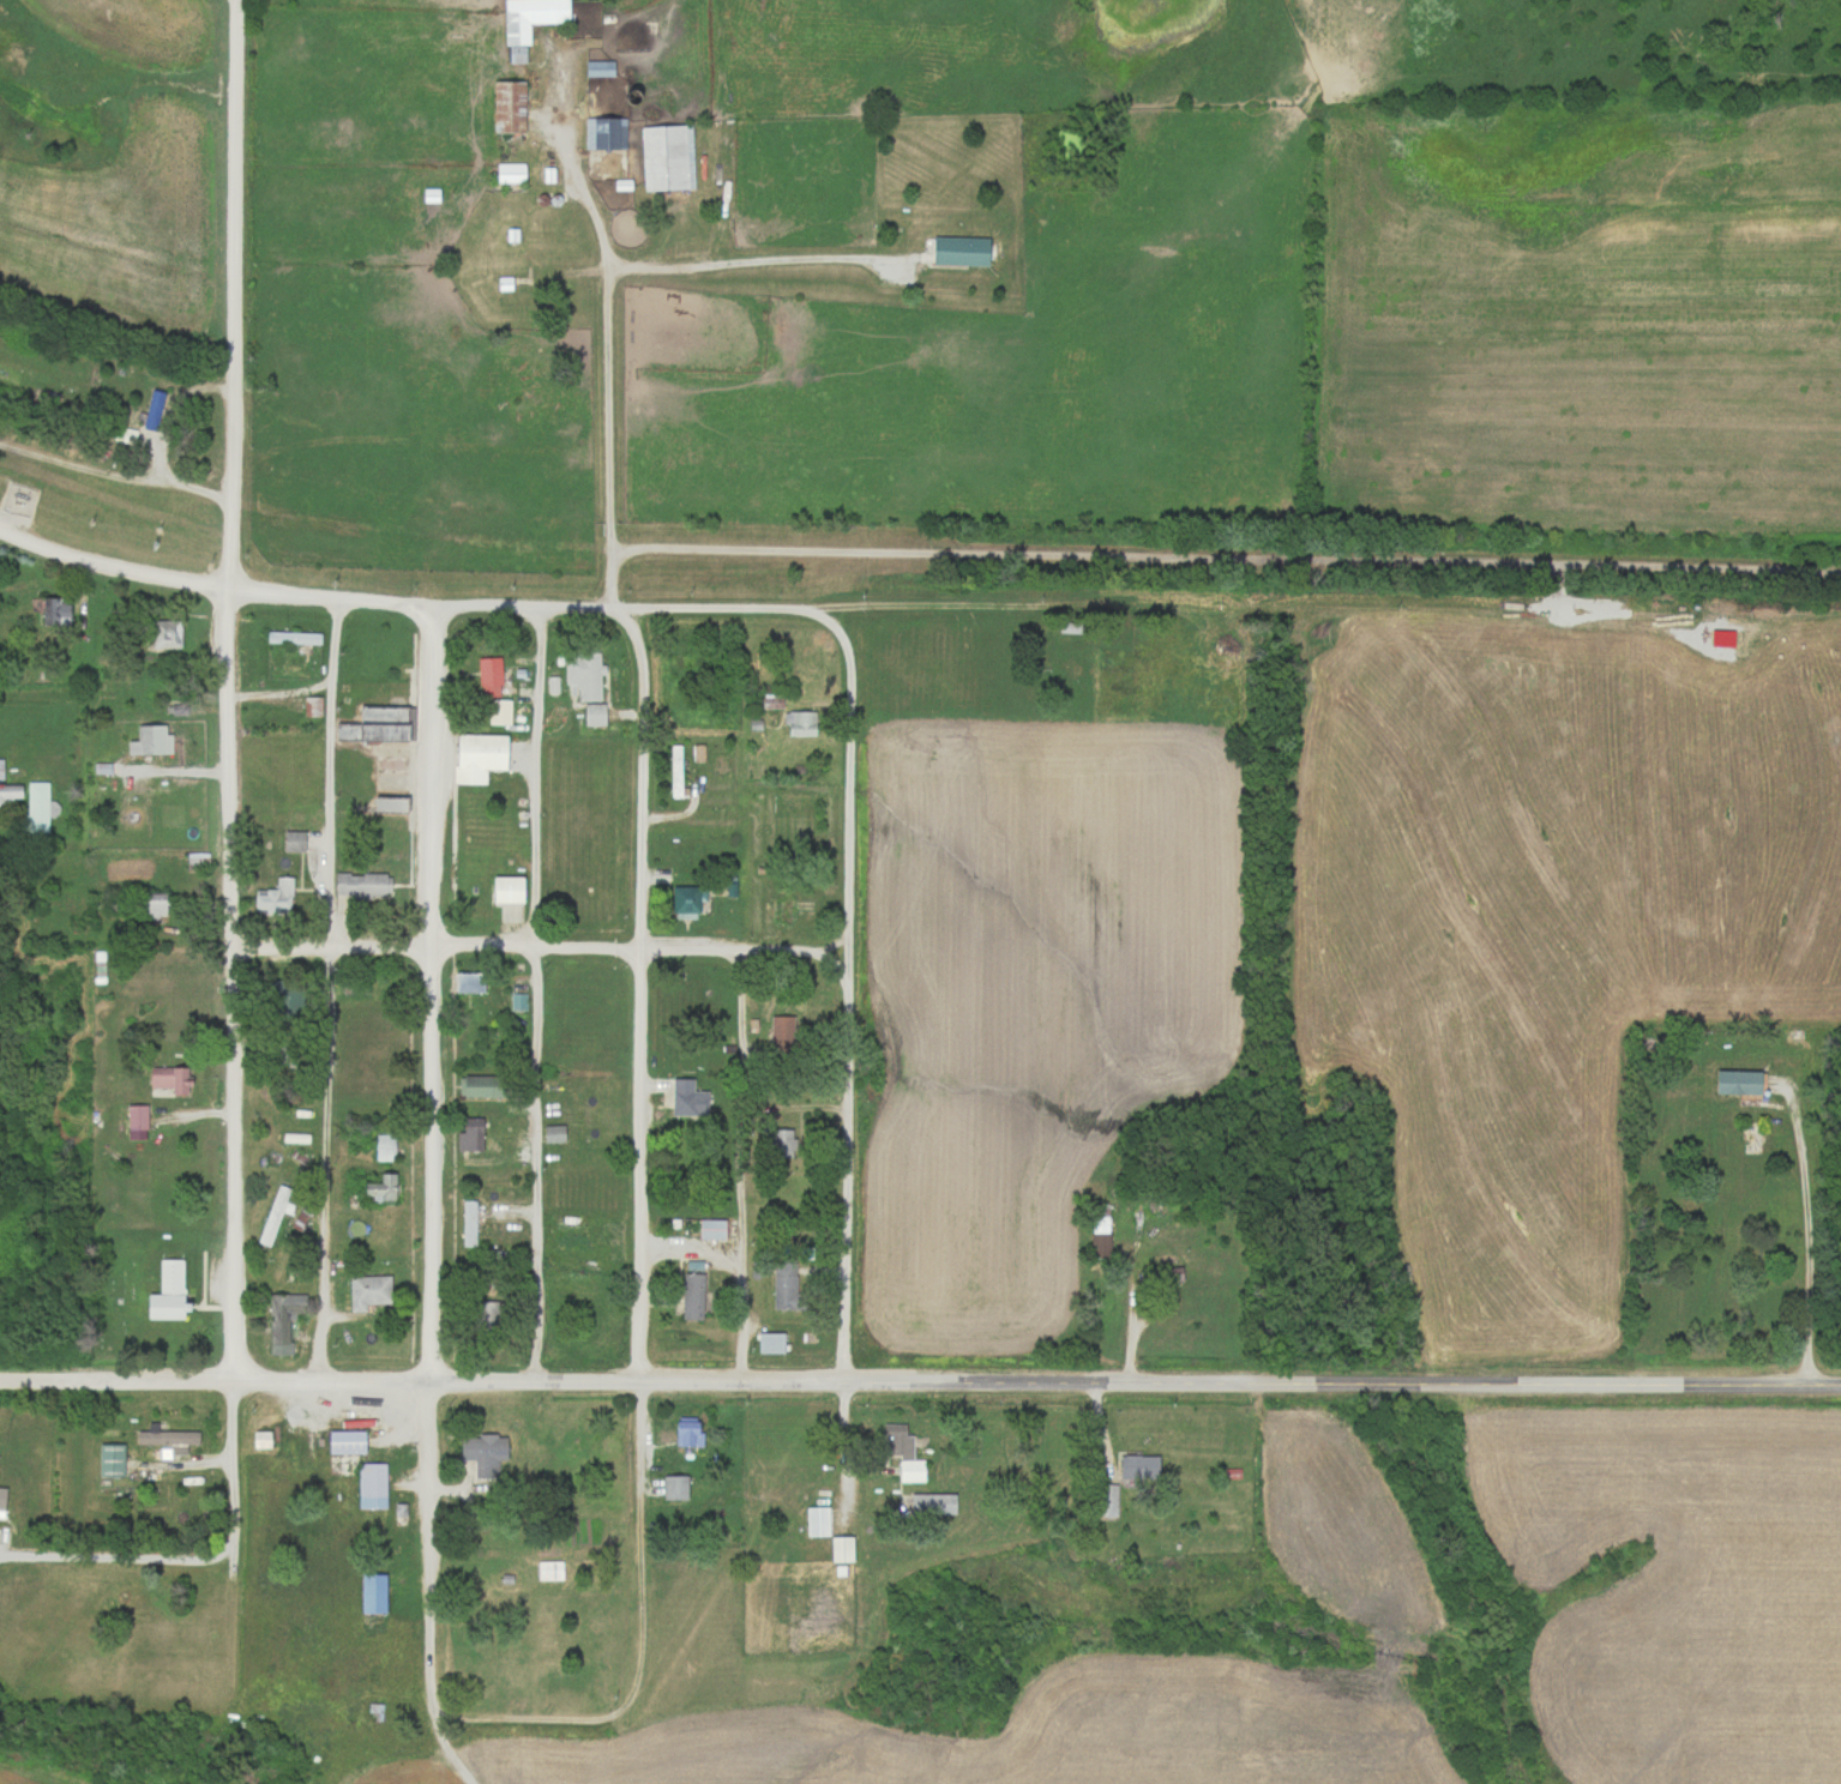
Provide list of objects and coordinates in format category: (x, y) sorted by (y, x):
building: (527, 22)
building: (596, 68)
building: (505, 108)
building: (604, 134)
road: (720, 134)
building: (662, 158)
building: (507, 177)
road: (239, 213)
building: (957, 252)
road: (764, 261)
road: (608, 277)
building: (512, 297)
crop: (1576, 320)
building: (151, 408)
building: (122, 436)
road: (1225, 556)
road: (416, 604)
building: (53, 609)
building: (163, 633)
building: (293, 637)
building: (580, 674)
road: (429, 675)
building: (487, 675)
building: (311, 705)
building: (498, 711)
building: (384, 712)
building: (798, 723)
building: (371, 728)
building: (148, 740)
building: (480, 754)
building: (675, 770)
building: (10, 790)
building: (390, 801)
building: (38, 807)
building: (291, 840)
building: (195, 860)
building: (360, 885)
building: (505, 897)
building: (273, 898)
building: (682, 900)
road: (234, 903)
building: (150, 904)
road: (545, 947)
building: (465, 982)
building: (369, 986)
road: (326, 987)
road: (535, 992)
building: (282, 995)
building: (680, 1001)
crop: (1030, 1003)
building: (574, 1020)
building: (780, 1033)
road: (852, 1060)
road: (432, 1061)
building: (167, 1080)
building: (1735, 1081)
building: (476, 1085)
building: (687, 1097)
road: (739, 1111)
building: (134, 1121)
building: (552, 1133)
building: (471, 1135)
building: (780, 1143)
building: (383, 1146)
building: (378, 1189)
building: (467, 1223)
building: (1099, 1224)
road: (1807, 1225)
building: (710, 1229)
road: (644, 1250)
road: (741, 1274)
building: (783, 1284)
building: (367, 1291)
building: (164, 1292)
building: (690, 1295)
building: (1100, 1295)
building: (489, 1315)
building: (282, 1320)
building: (766, 1340)
road: (920, 1379)
building: (684, 1432)
building: (259, 1436)
building: (173, 1439)
building: (344, 1441)
building: (901, 1451)
building: (481, 1452)
building: (108, 1460)
building: (1136, 1466)
building: (371, 1484)
building: (673, 1487)
building: (931, 1503)
building: (816, 1521)
building: (840, 1549)
building: (548, 1569)
road: (426, 1585)
building: (517, 1664)

